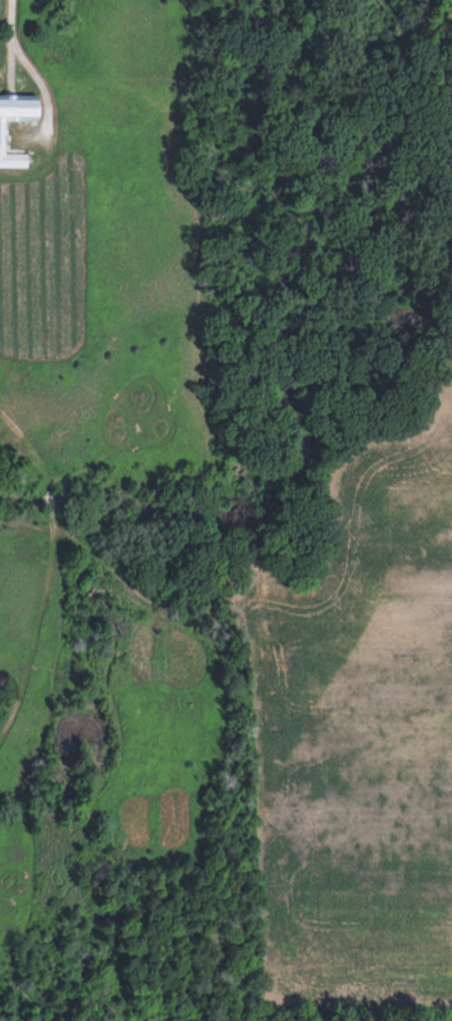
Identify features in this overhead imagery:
building: (2, 135)

